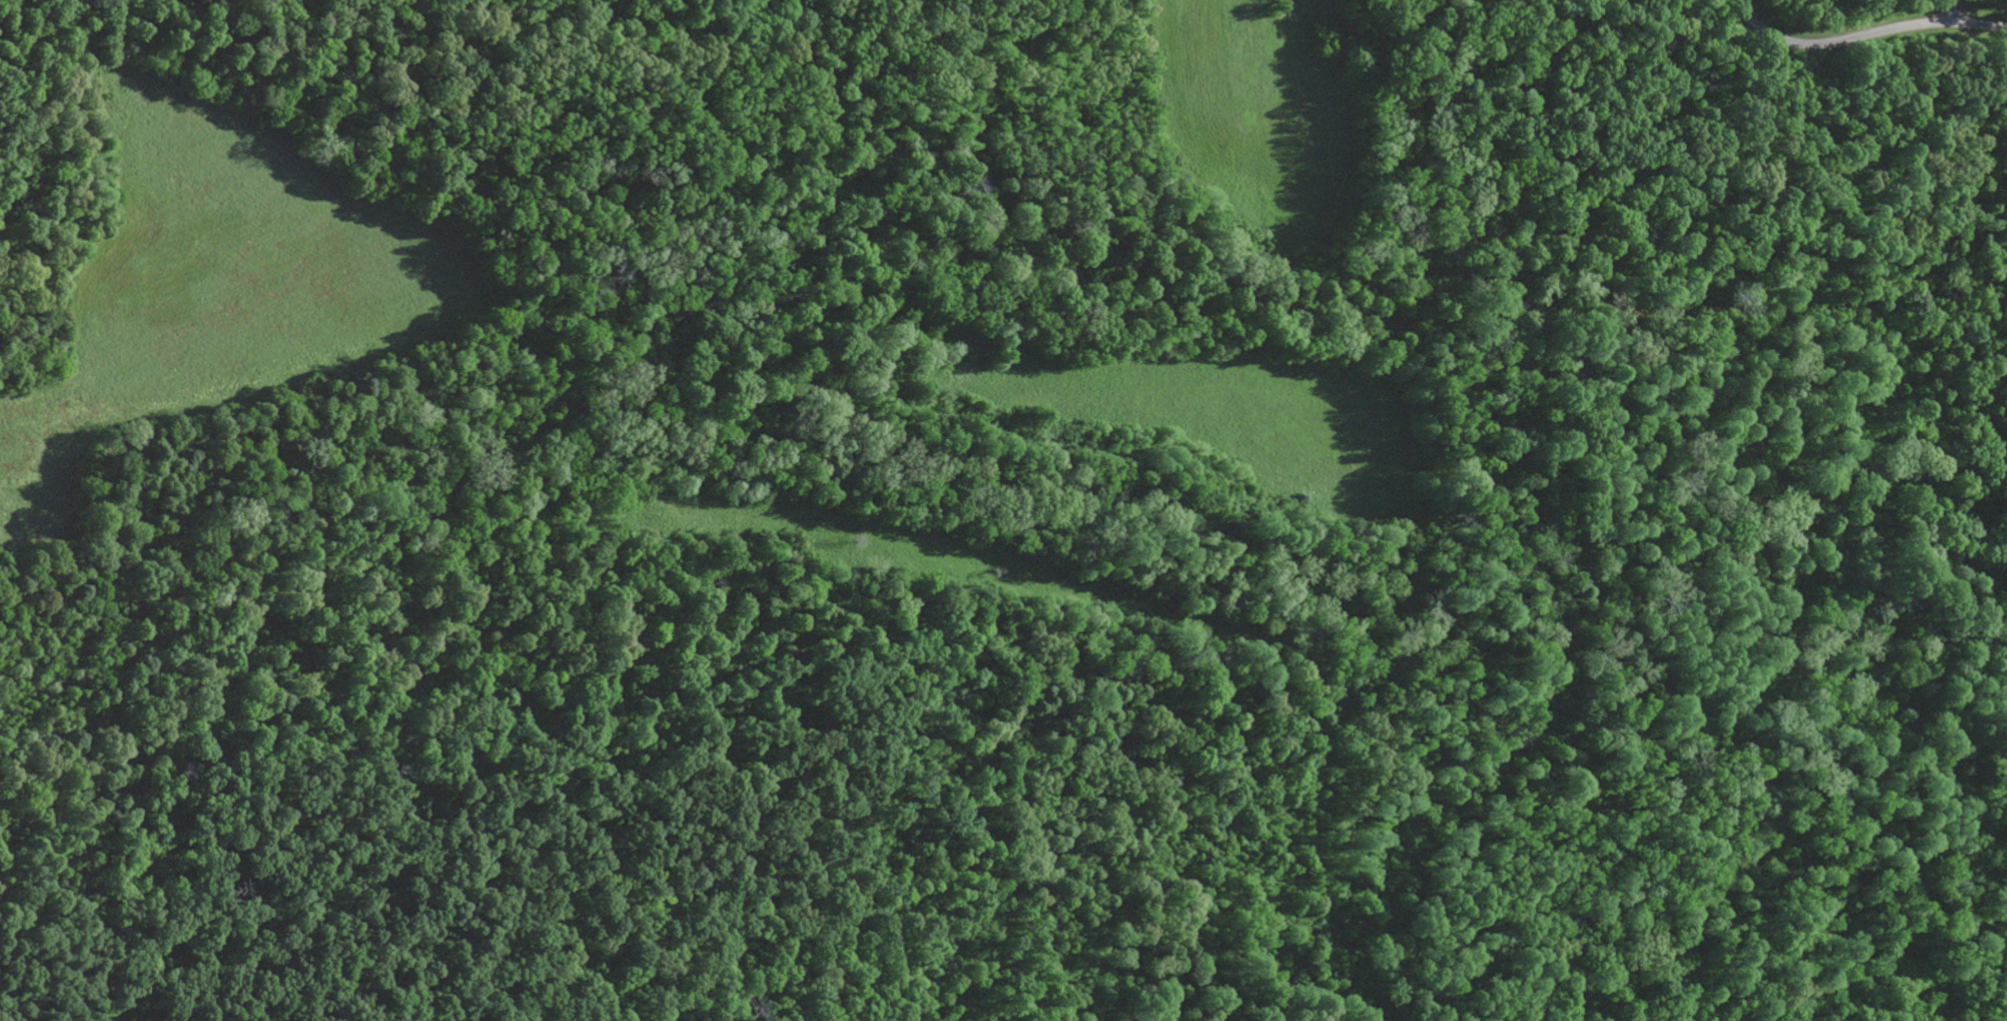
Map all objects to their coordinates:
road: (1950, 13)
road: (1864, 38)

